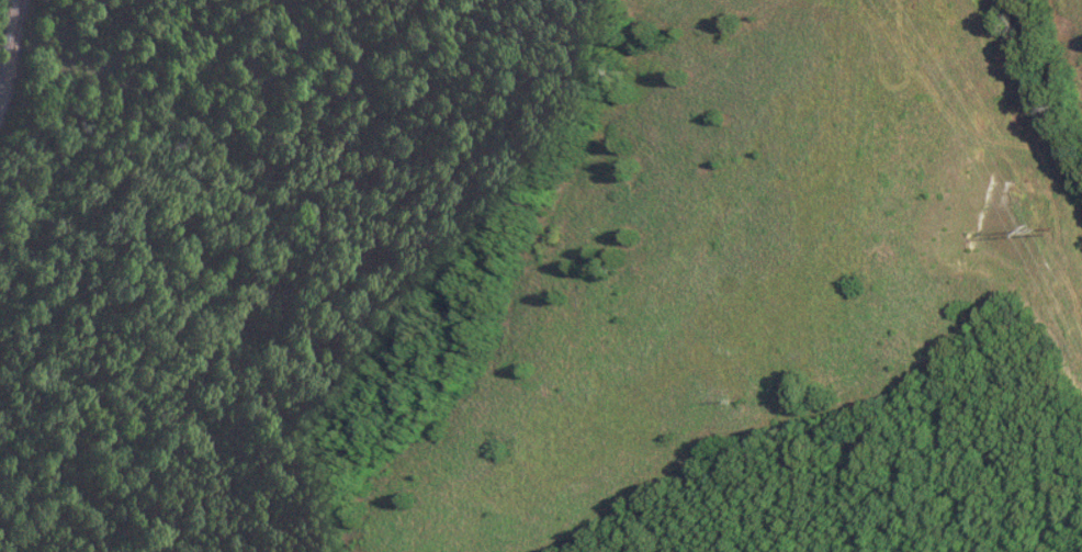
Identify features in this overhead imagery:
airport: (1028, 87)
power tower: (1045, 233)

